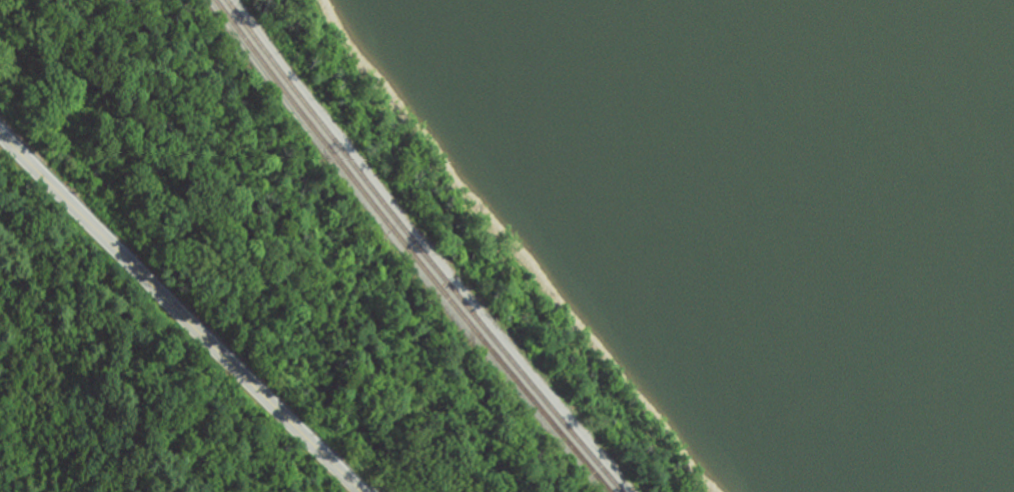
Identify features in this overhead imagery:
river: (988, 32)
railway: (409, 250)
railway: (423, 250)
road: (179, 314)

